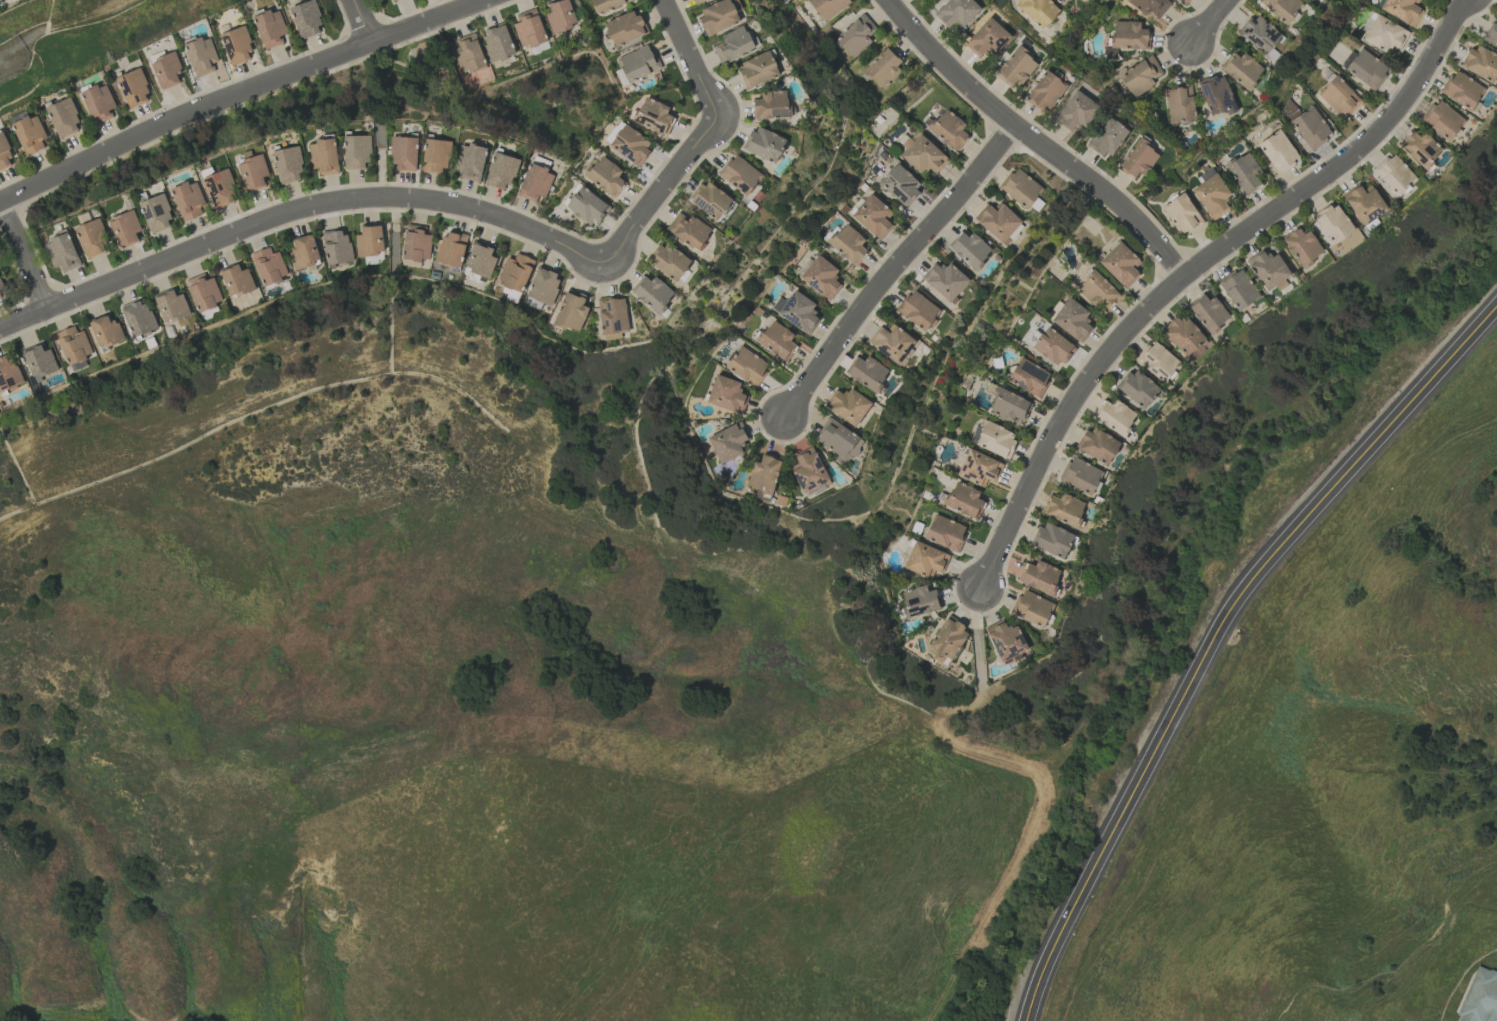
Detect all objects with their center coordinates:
building: (389, 0)
building: (698, 1)
building: (1060, 1)
building: (1183, 1)
building: (608, 4)
building: (1150, 6)
building: (828, 7)
building: (1281, 8)
building: (1402, 10)
building: (1038, 11)
building: (957, 13)
building: (560, 16)
building: (718, 16)
building: (306, 19)
road: (1211, 20)
road: (361, 22)
building: (270, 28)
building: (625, 28)
building: (529, 29)
building: (1260, 34)
building: (1384, 34)
building: (1492, 34)
building: (856, 35)
building: (1129, 35)
building: (987, 38)
building: (497, 42)
building: (236, 45)
building: (733, 45)
building: (468, 54)
building: (201, 56)
building: (1481, 63)
building: (637, 64)
building: (884, 67)
building: (1016, 67)
building: (758, 69)
building: (1366, 69)
building: (166, 70)
building: (1243, 70)
building: (1140, 76)
building: (133, 88)
building: (1462, 90)
building: (1045, 92)
road: (240, 95)
building: (1216, 95)
building: (1339, 97)
building: (99, 103)
building: (1179, 104)
building: (771, 105)
building: (1077, 111)
building: (653, 116)
building: (63, 118)
building: (1442, 119)
building: (1310, 128)
building: (949, 129)
building: (29, 134)
building: (1106, 137)
road: (1034, 138)
road: (699, 142)
building: (630, 144)
building: (764, 144)
building: (1420, 148)
building: (1278, 151)
building: (356, 152)
building: (404, 153)
building: (5, 154)
building: (324, 155)
building: (923, 155)
building: (435, 156)
building: (1138, 159)
building: (471, 162)
building: (288, 165)
building: (253, 171)
building: (501, 171)
building: (1244, 173)
building: (740, 174)
building: (1394, 174)
building: (605, 175)
building: (535, 182)
building: (900, 184)
building: (220, 188)
building: (1020, 188)
building: (1212, 196)
building: (188, 200)
building: (710, 200)
building: (1364, 203)
building: (587, 206)
road: (296, 211)
building: (156, 214)
building: (1181, 214)
building: (873, 216)
building: (998, 221)
building: (1333, 224)
building: (125, 228)
building: (689, 230)
building: (92, 238)
building: (1350, 240)
building: (369, 241)
building: (416, 243)
building: (848, 244)
building: (336, 247)
building: (1303, 247)
building: (451, 248)
building: (970, 249)
building: (304, 252)
building: (62, 253)
road: (22, 256)
building: (480, 260)
building: (668, 261)
building: (1120, 264)
road: (894, 265)
road: (1193, 265)
building: (269, 266)
building: (1268, 269)
building: (515, 271)
building: (821, 277)
building: (236, 280)
building: (944, 280)
building: (1, 284)
building: (544, 286)
building: (1238, 289)
building: (1097, 291)
building: (203, 292)
building: (652, 293)
building: (0, 296)
building: (171, 305)
building: (917, 310)
building: (571, 311)
building: (799, 312)
building: (1208, 313)
building: (612, 315)
building: (138, 318)
building: (1072, 320)
building: (105, 331)
building: (1186, 337)
building: (777, 340)
building: (891, 342)
building: (73, 345)
building: (1053, 347)
building: (39, 361)
building: (1157, 361)
building: (747, 365)
building: (867, 372)
building: (8, 373)
building: (1028, 377)
building: (1137, 388)
building: (726, 394)
building: (848, 405)
building: (1008, 406)
building: (1114, 416)
building: (995, 439)
building: (839, 441)
building: (728, 442)
building: (1097, 445)
building: (979, 468)
building: (809, 471)
building: (764, 474)
building: (1080, 475)
building: (964, 500)
building: (1064, 509)
building: (945, 533)
building: (1052, 540)
building: (925, 560)
building: (1040, 577)
building: (919, 601)
building: (1031, 608)
road: (1217, 635)
building: (1005, 640)
building: (947, 641)
building: (1480, 997)

